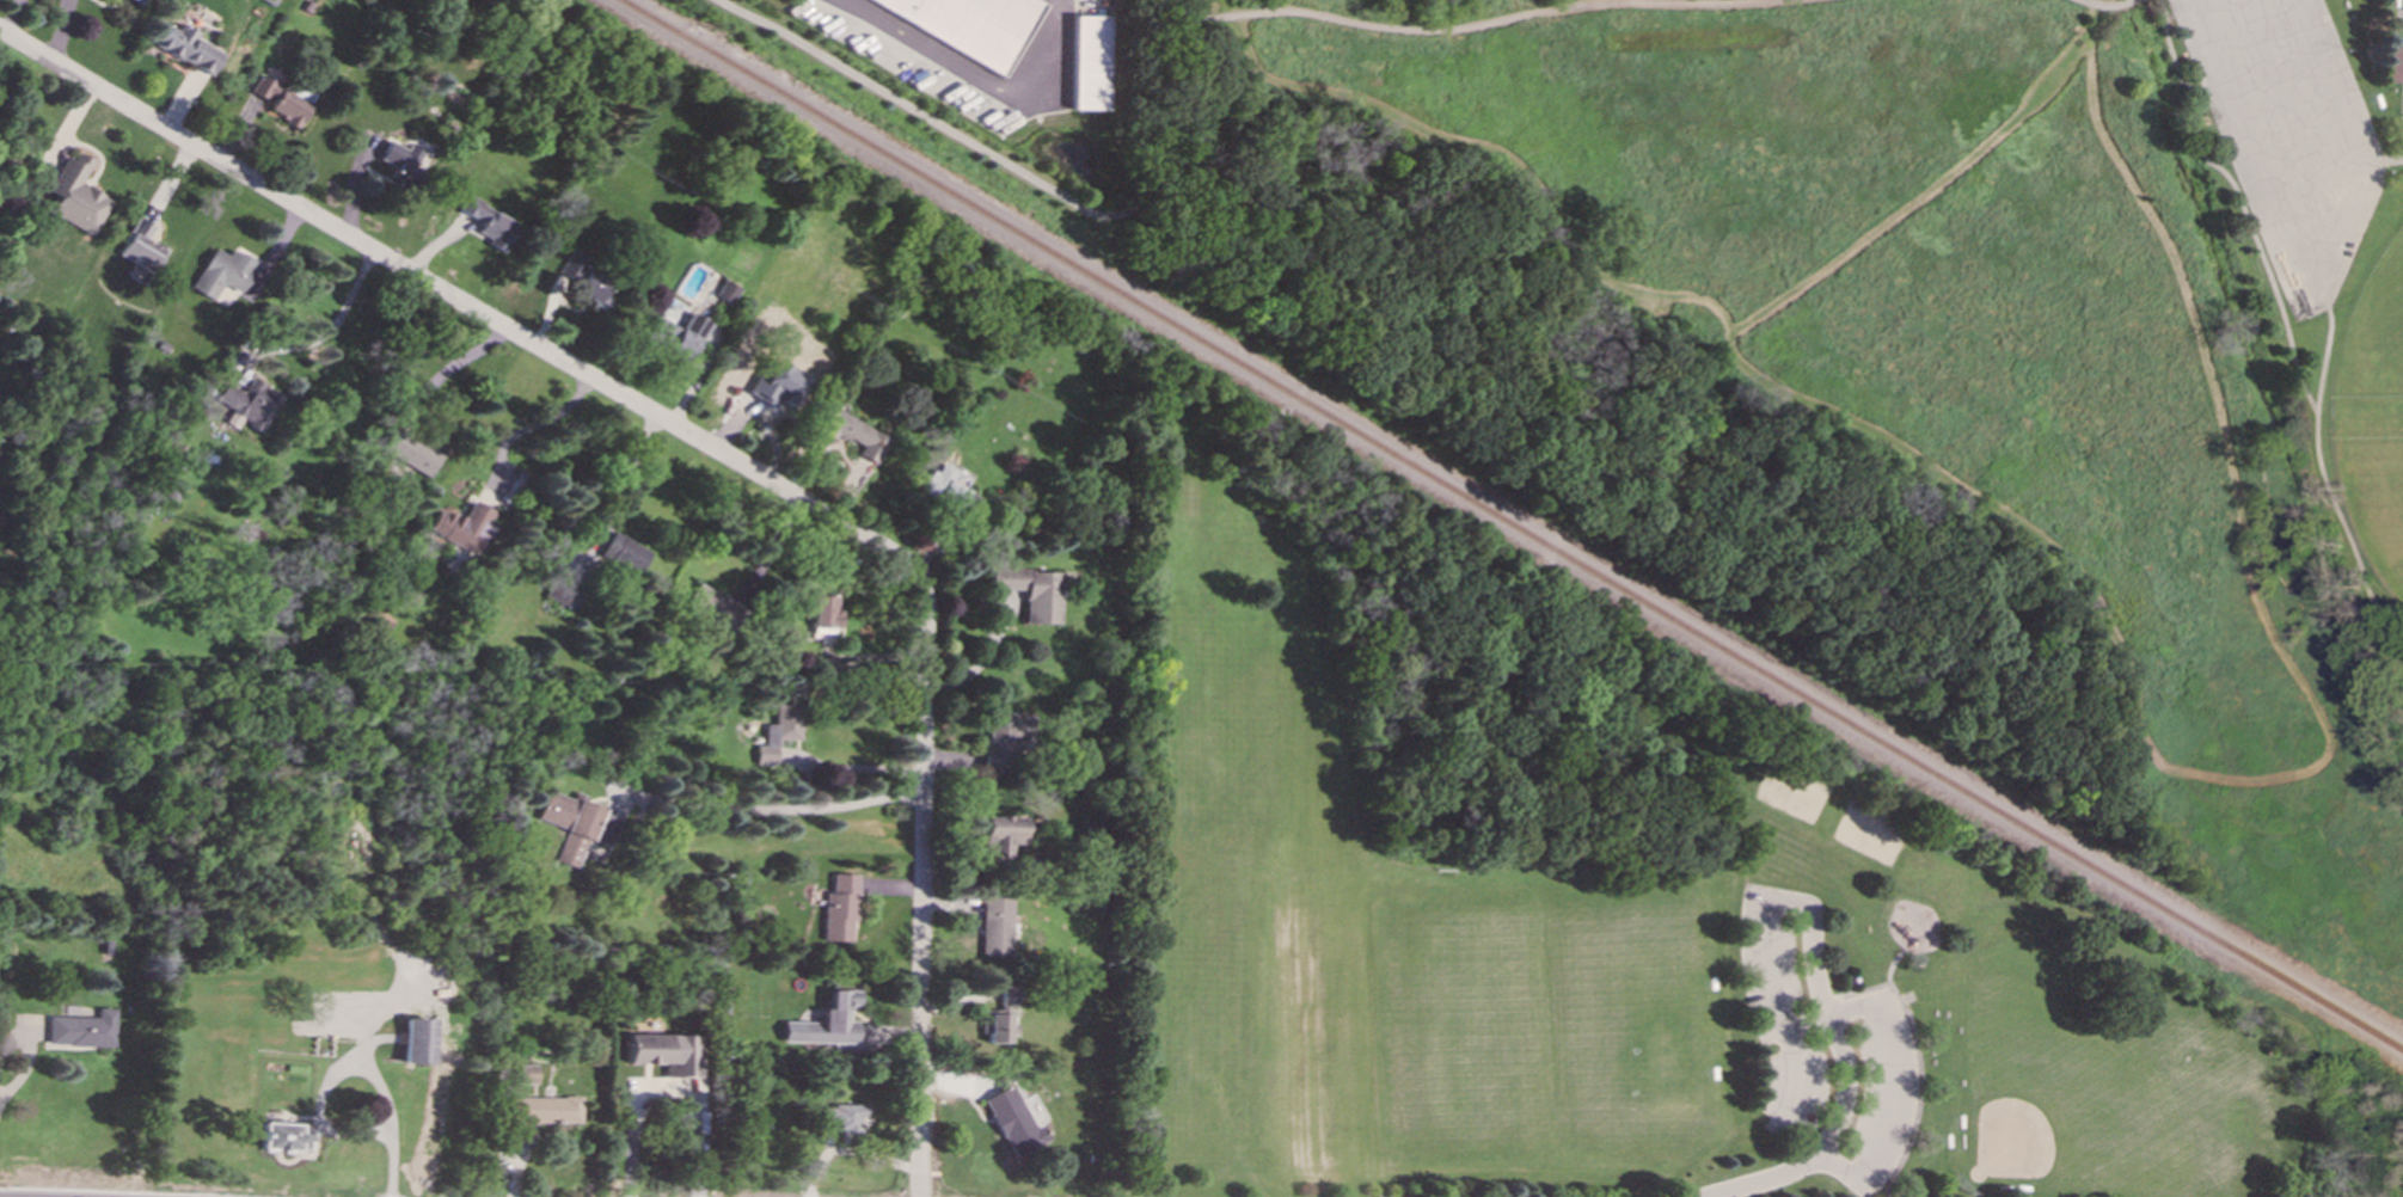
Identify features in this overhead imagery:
building: (140, 1)
road: (1752, 1)
road: (1771, 1)
road: (2105, 6)
building: (973, 24)
road: (1384, 25)
building: (188, 48)
building: (1087, 62)
building: (2390, 63)
park: (2399, 67)
road: (968, 70)
building: (280, 100)
road: (2289, 116)
parking lot: (2287, 131)
road: (952, 133)
road: (1501, 153)
road: (2379, 158)
building: (400, 160)
road: (1918, 192)
building: (75, 195)
building: (489, 222)
building: (141, 245)
building: (222, 271)
building: (582, 276)
road: (2307, 288)
building: (727, 290)
road: (459, 301)
road: (336, 320)
road: (2284, 325)
building: (678, 333)
park: (2372, 337)
road: (2324, 349)
park: (1895, 358)
road: (448, 368)
building: (774, 388)
road: (1605, 389)
building: (247, 400)
road: (533, 426)
building: (853, 434)
building: (410, 452)
road: (2233, 483)
park: (2374, 485)
road: (1973, 495)
road: (1638, 508)
building: (462, 526)
railway: (1509, 526)
road: (590, 553)
building: (623, 554)
building: (1030, 591)
building: (565, 593)
building: (713, 607)
building: (823, 610)
road: (1477, 615)
road: (981, 661)
road: (1620, 698)
building: (779, 730)
building: (1003, 737)
park: (1789, 793)
road: (768, 809)
building: (576, 824)
park: (1865, 829)
building: (999, 834)
road: (921, 884)
building: (839, 908)
park: (1605, 911)
building: (995, 925)
road: (1888, 977)
road: (1776, 990)
parking lot: (1779, 1015)
building: (998, 1017)
building: (827, 1021)
building: (81, 1029)
park: (1538, 1030)
building: (417, 1039)
building: (666, 1051)
road: (26, 1056)
road: (1845, 1070)
building: (527, 1073)
road: (1797, 1076)
road: (323, 1078)
road: (669, 1087)
parking lot: (1881, 1093)
road: (1887, 1097)
park: (2034, 1112)
building: (541, 1113)
building: (845, 1117)
building: (1011, 1121)
building: (284, 1135)
road: (391, 1164)
road: (94, 1189)
road: (1866, 1189)

